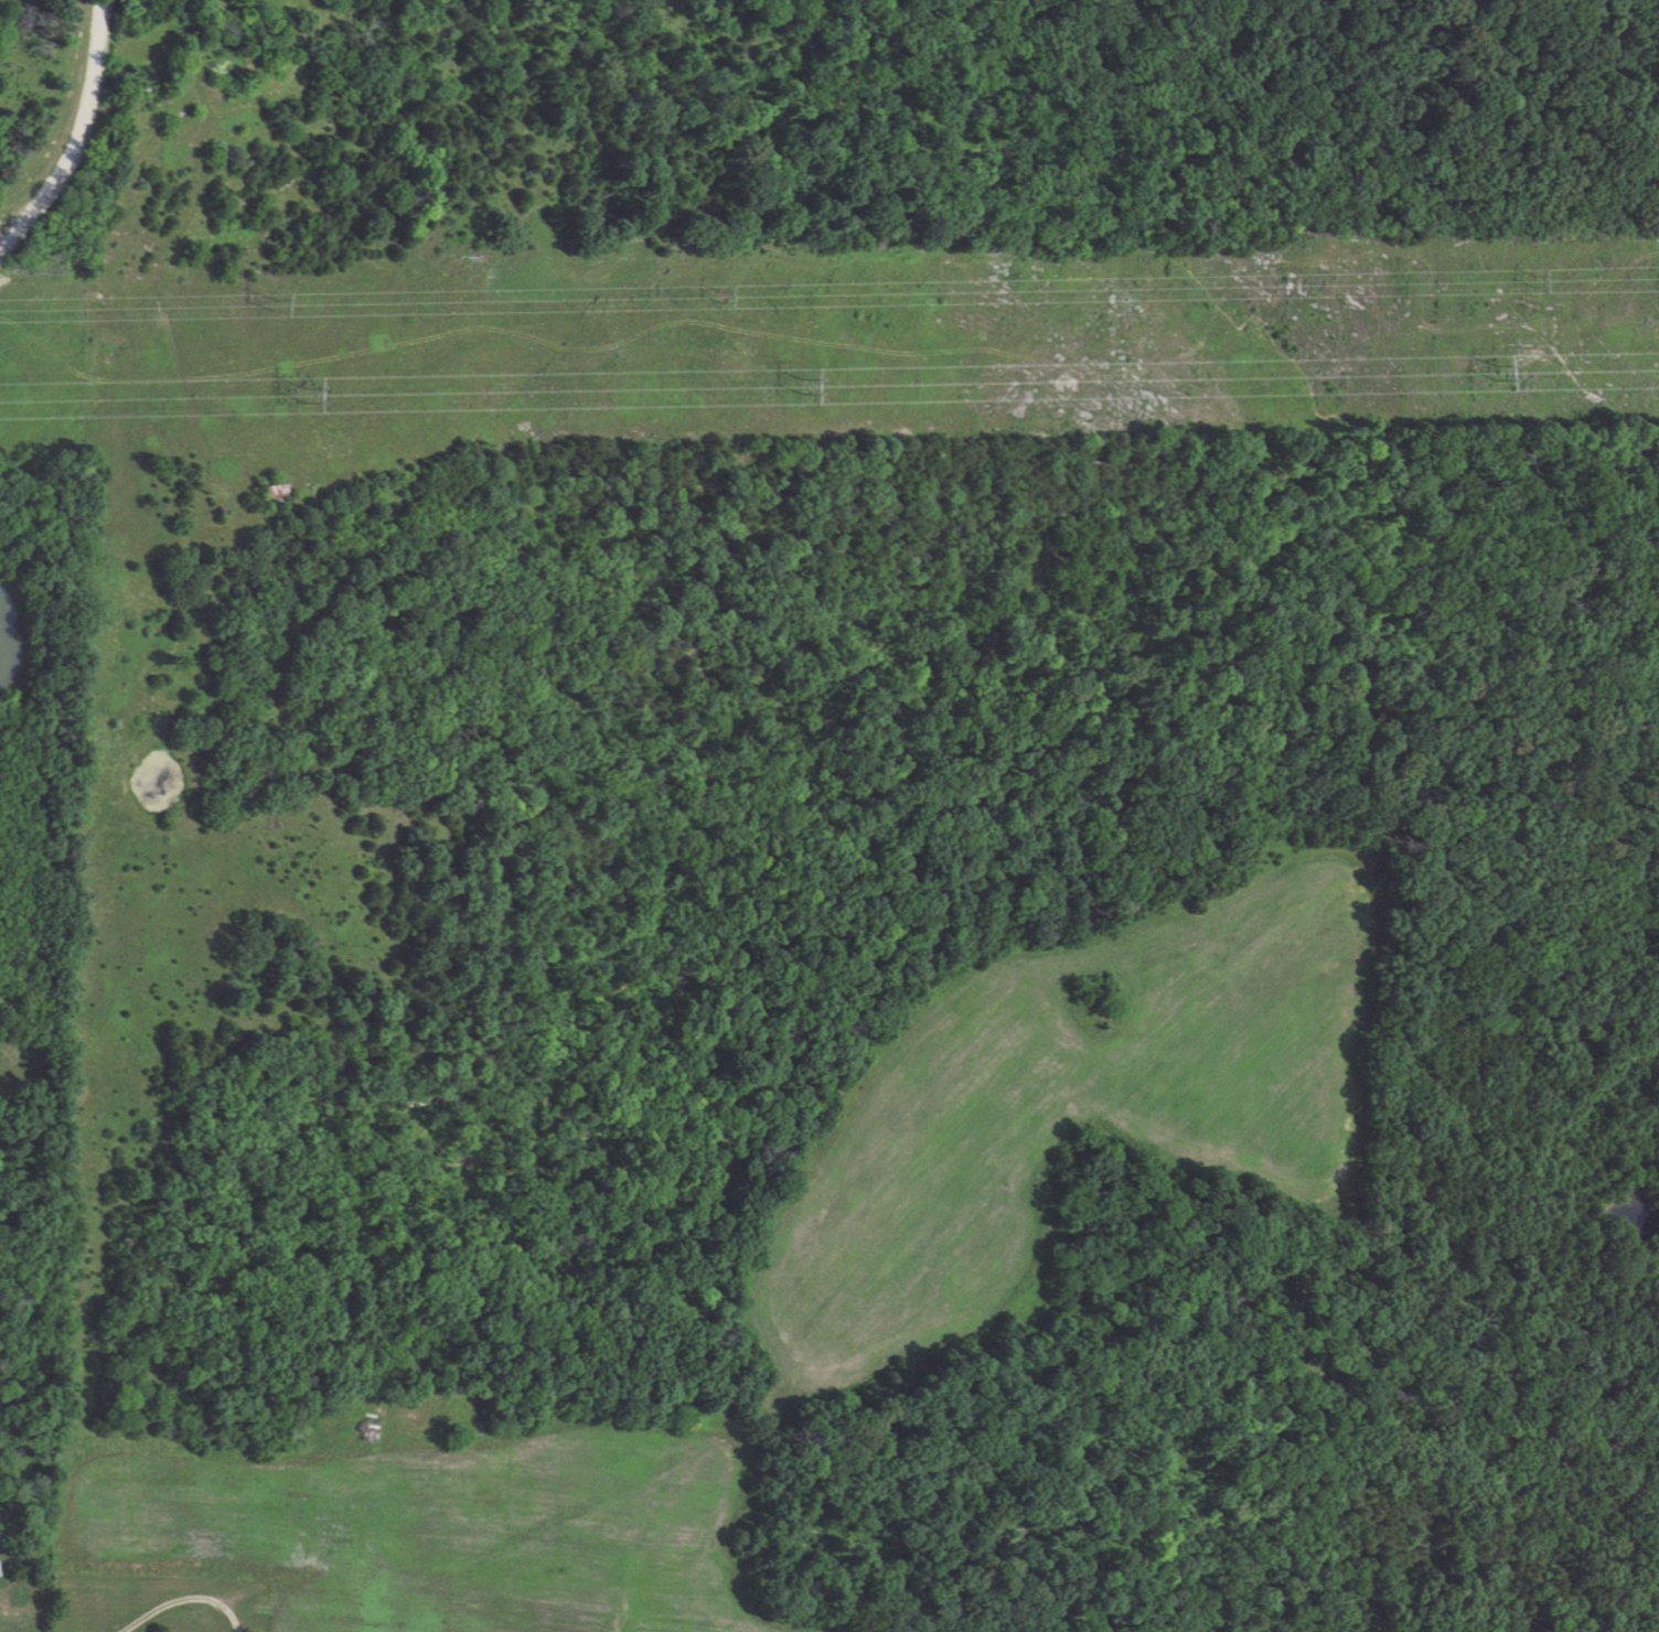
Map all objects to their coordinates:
road: (96, 69)
road: (40, 195)
power tower: (1532, 290)
power tower: (279, 300)
power tower: (716, 300)
power tower: (1491, 377)
power tower: (796, 387)
power tower: (307, 400)
building: (274, 497)
road: (184, 1600)

